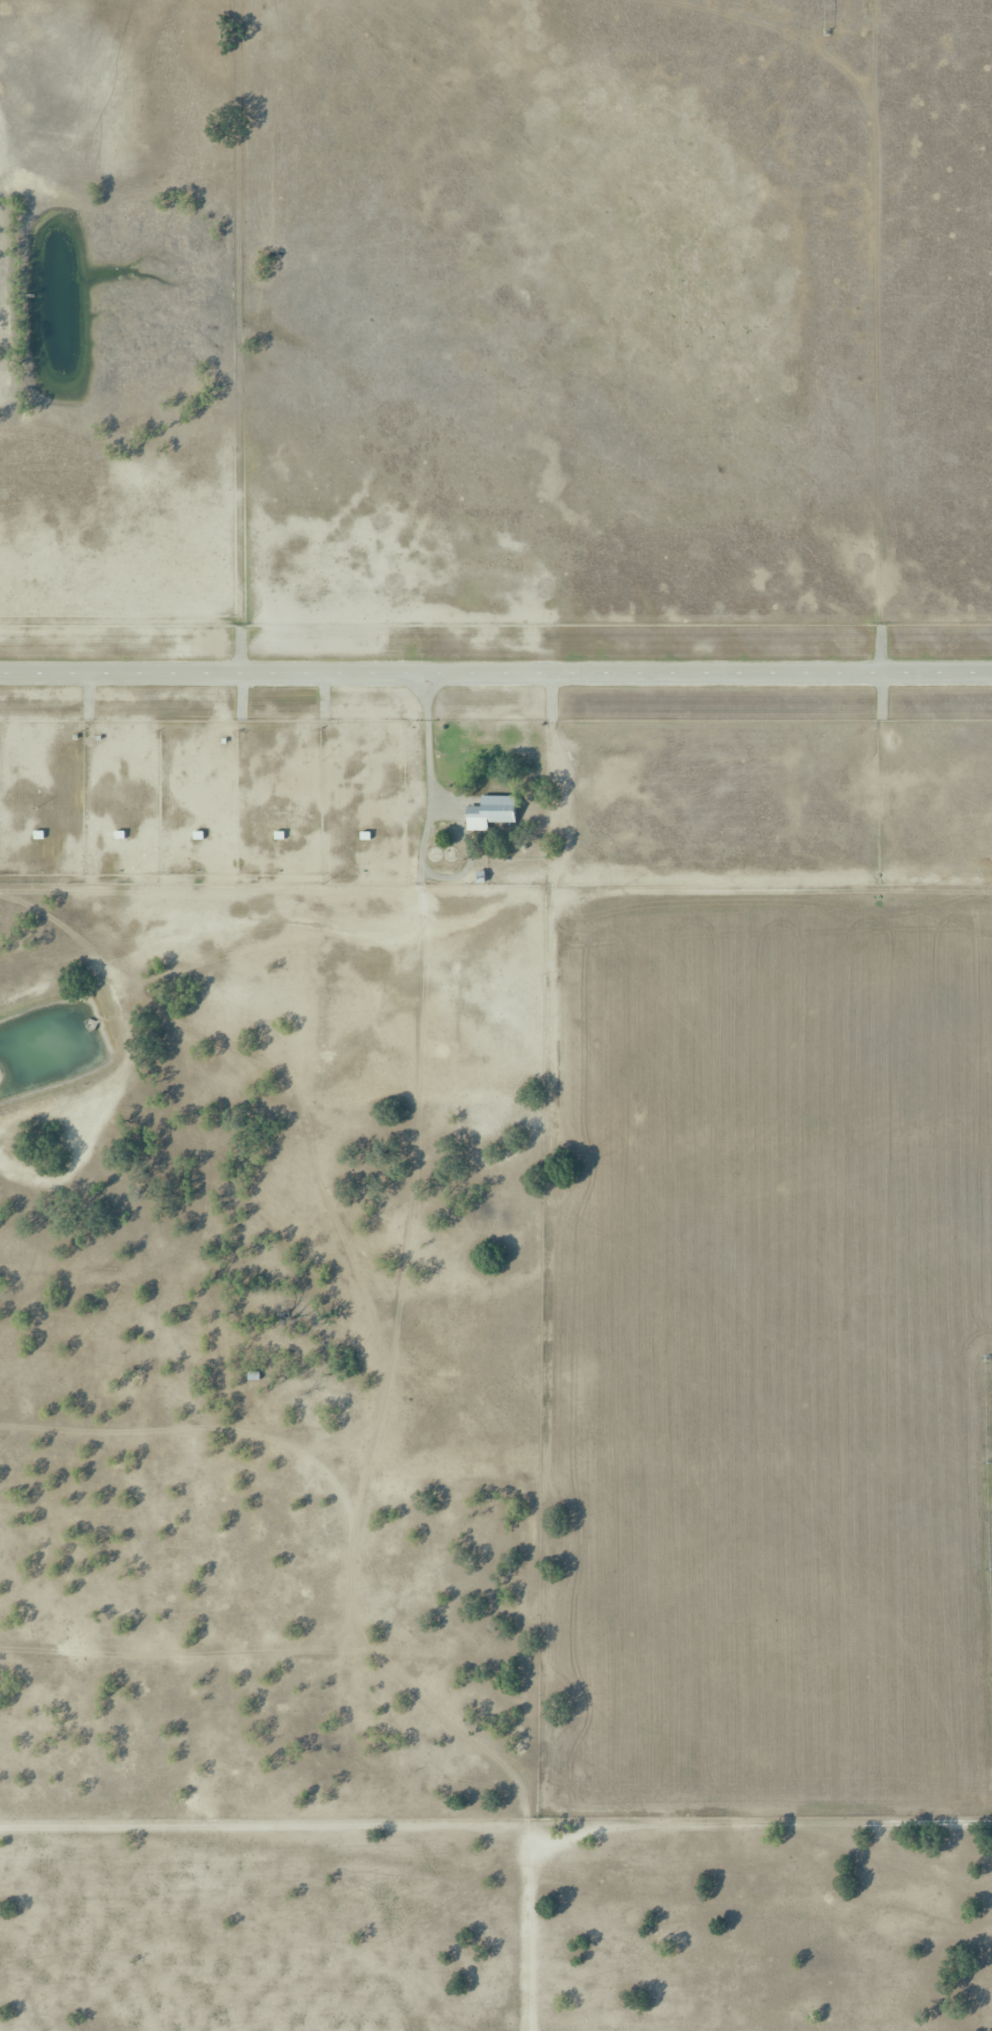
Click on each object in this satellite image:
airport runway: (496, 671)
road: (496, 671)
building: (492, 808)
building: (480, 876)

